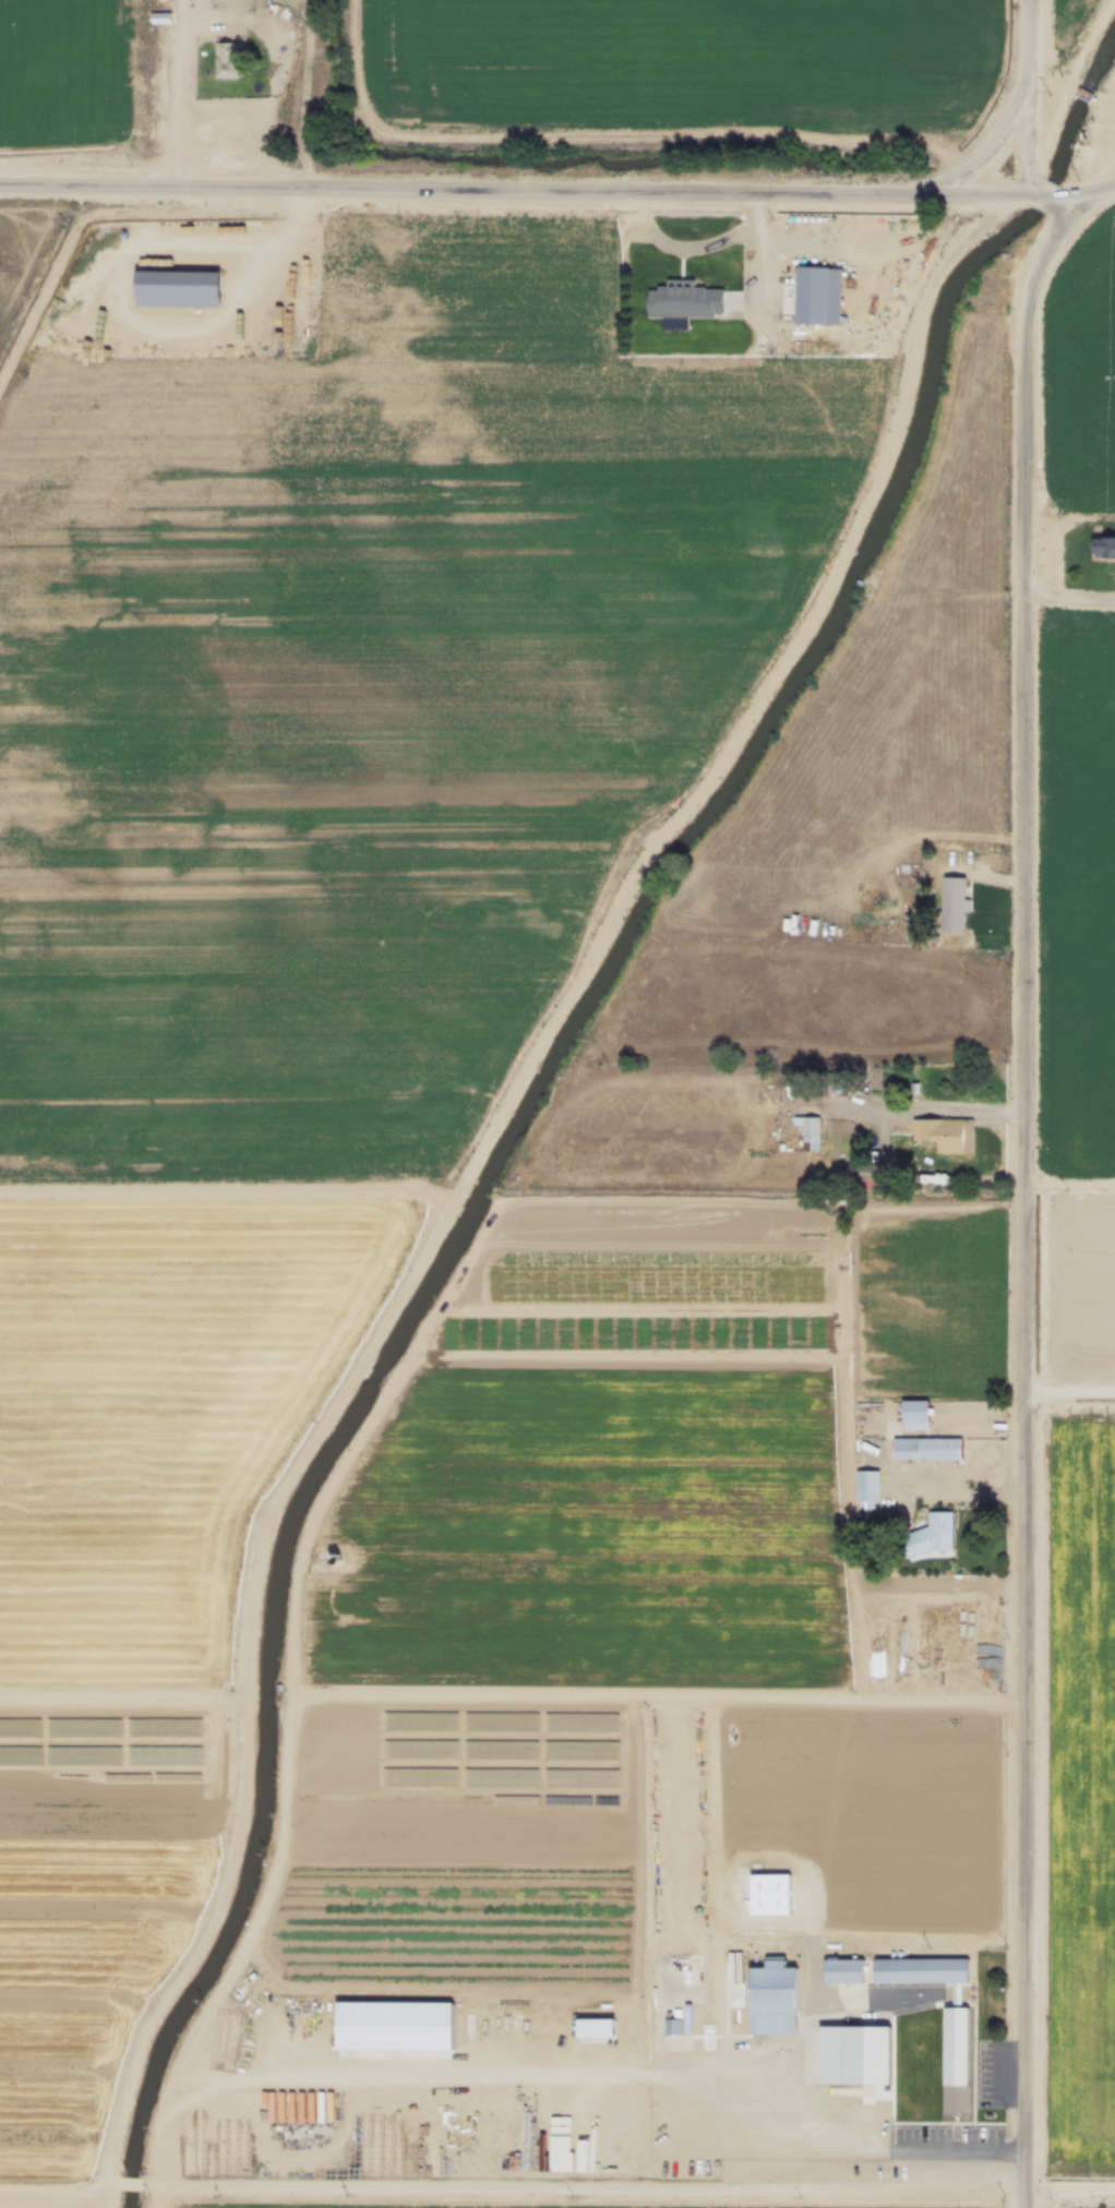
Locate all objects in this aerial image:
road: (237, 16)
building: (158, 19)
road: (1068, 51)
building: (224, 60)
road: (1031, 99)
road: (1093, 195)
road: (516, 196)
road: (1052, 200)
road: (213, 249)
road: (699, 250)
building: (816, 293)
building: (683, 299)
building: (1103, 547)
road: (1070, 603)
building: (952, 903)
road: (927, 1119)
building: (804, 1132)
building: (944, 1133)
road: (472, 1162)
building: (867, 1175)
road: (1026, 1200)
road: (1068, 1392)
road: (840, 1404)
building: (914, 1414)
building: (925, 1449)
building: (865, 1489)
building: (928, 1536)
road: (932, 1591)
building: (842, 1971)
building: (772, 1999)
building: (955, 2048)
building: (853, 2056)
road: (590, 2189)
road: (142, 2193)
road: (53, 2194)
road: (118, 2194)
road: (106, 2200)

